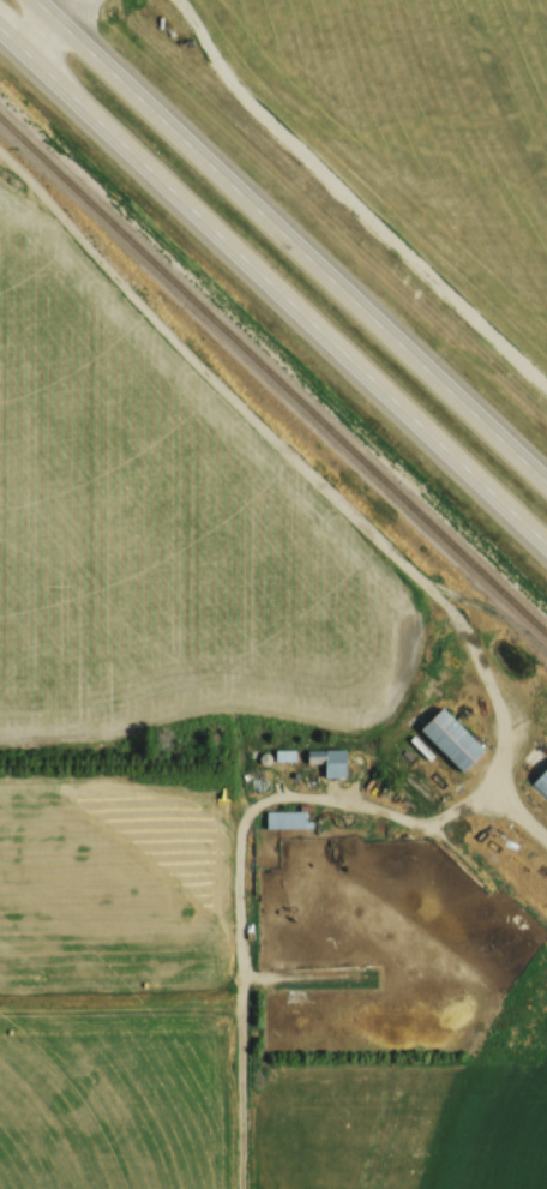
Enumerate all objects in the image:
road: (52, 24)
road: (291, 239)
road: (273, 281)
railway: (273, 372)
building: (450, 738)
building: (284, 755)
building: (327, 761)
building: (540, 781)
building: (285, 818)

